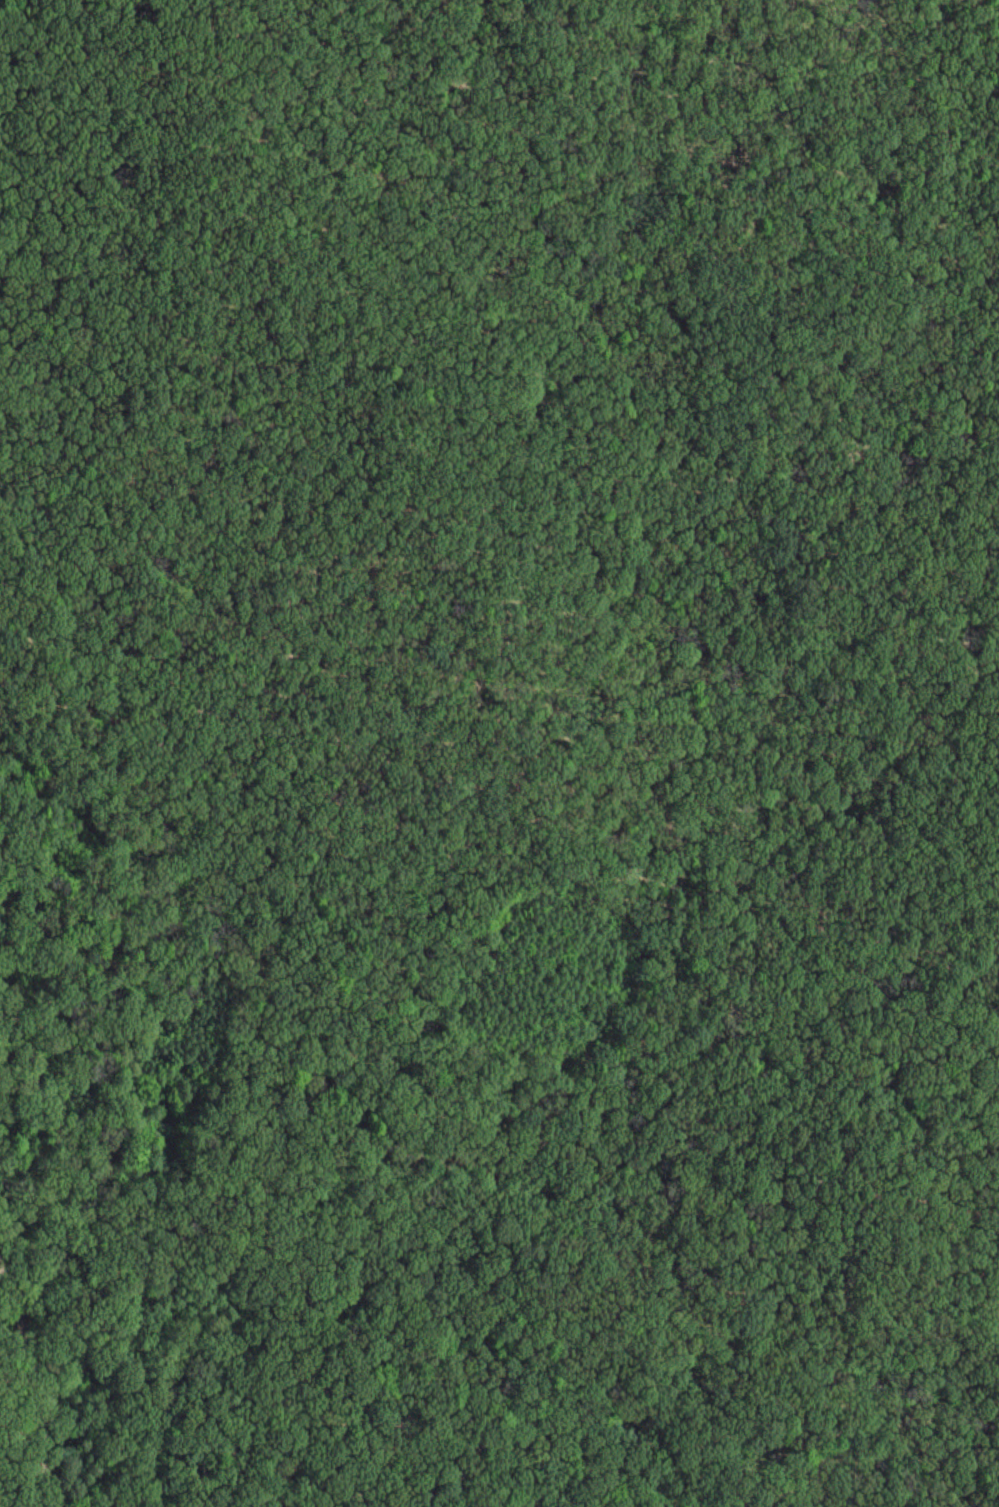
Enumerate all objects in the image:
road: (537, 1141)
road: (30, 1385)

